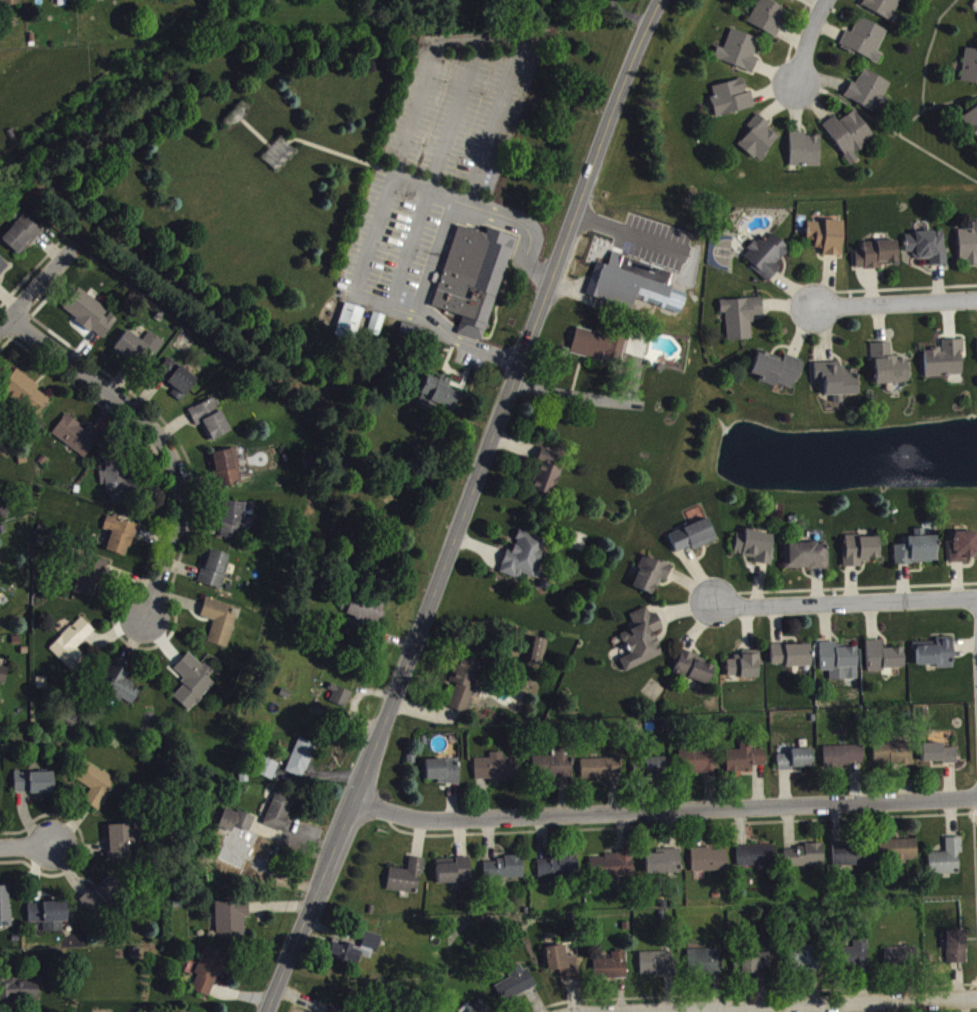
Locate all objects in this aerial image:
building: (96, 0)
building: (50, 1)
building: (792, 1)
building: (11, 4)
building: (883, 9)
road: (629, 13)
building: (769, 22)
road: (806, 39)
building: (866, 45)
road: (927, 50)
building: (740, 56)
building: (970, 72)
road: (426, 73)
building: (869, 96)
building: (732, 103)
road: (932, 105)
building: (972, 125)
road: (888, 127)
building: (850, 140)
building: (759, 143)
building: (805, 155)
building: (22, 240)
building: (827, 242)
building: (968, 250)
building: (928, 252)
building: (767, 260)
building: (877, 260)
building: (3, 272)
building: (471, 274)
building: (635, 290)
road: (35, 293)
road: (896, 303)
building: (90, 318)
building: (741, 322)
building: (351, 326)
building: (377, 329)
building: (598, 351)
building: (140, 352)
building: (945, 365)
building: (890, 371)
building: (778, 375)
building: (178, 384)
building: (837, 385)
road: (586, 395)
building: (27, 398)
building: (440, 399)
building: (211, 424)
road: (160, 439)
building: (77, 441)
building: (227, 472)
building: (546, 479)
building: (119, 486)
road: (465, 507)
building: (235, 523)
building: (120, 540)
building: (694, 542)
building: (756, 551)
building: (964, 552)
building: (861, 556)
building: (524, 561)
building: (806, 561)
building: (215, 574)
building: (651, 580)
building: (92, 582)
road: (845, 601)
building: (0, 607)
building: (364, 613)
building: (220, 627)
building: (642, 645)
building: (73, 650)
building: (0, 655)
building: (537, 656)
building: (936, 658)
building: (792, 660)
building: (884, 662)
building: (839, 667)
building: (743, 671)
building: (694, 673)
building: (3, 682)
building: (193, 687)
building: (119, 689)
building: (464, 689)
building: (342, 702)
building: (894, 759)
building: (939, 759)
building: (843, 761)
building: (302, 763)
building: (747, 763)
building: (796, 764)
building: (696, 766)
building: (554, 771)
building: (654, 772)
building: (496, 773)
building: (601, 773)
building: (268, 774)
building: (444, 776)
building: (35, 788)
building: (96, 789)
road: (663, 811)
building: (281, 816)
building: (236, 826)
building: (121, 846)
road: (28, 848)
building: (898, 856)
building: (852, 860)
building: (757, 861)
building: (804, 861)
building: (947, 863)
building: (260, 865)
building: (710, 865)
building: (664, 867)
building: (613, 870)
building: (559, 871)
building: (503, 873)
building: (454, 876)
building: (407, 883)
building: (100, 903)
building: (5, 912)
building: (50, 920)
building: (232, 923)
building: (956, 952)
building: (356, 954)
building: (855, 961)
building: (901, 962)
building: (805, 964)
building: (705, 967)
building: (563, 968)
building: (657, 969)
building: (754, 969)
building: (612, 972)
building: (209, 977)
building: (516, 989)
building: (19, 996)
road: (854, 1005)
building: (481, 1009)
building: (334, 1011)

